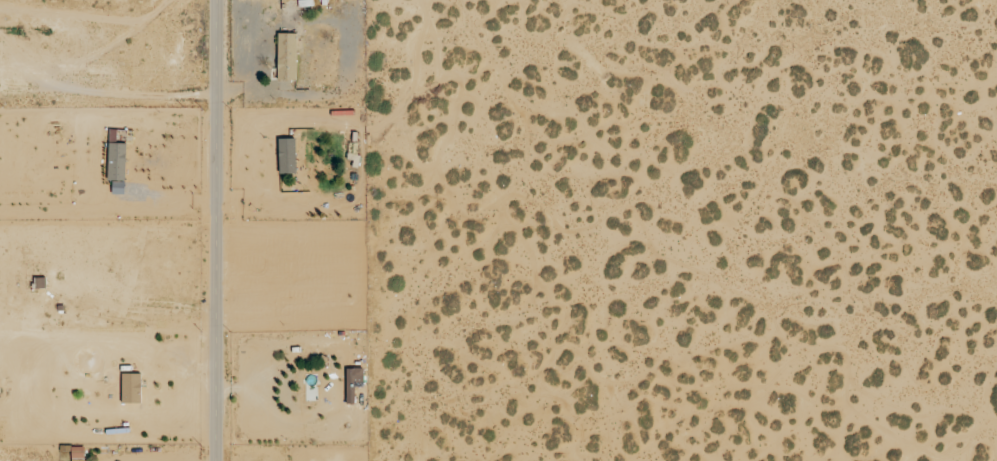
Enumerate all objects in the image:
road: (214, 230)

